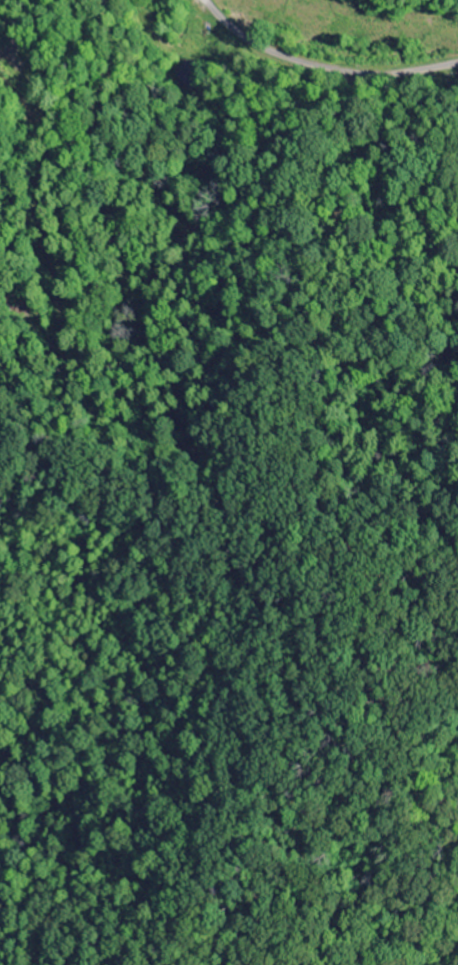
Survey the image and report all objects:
road: (322, 67)

